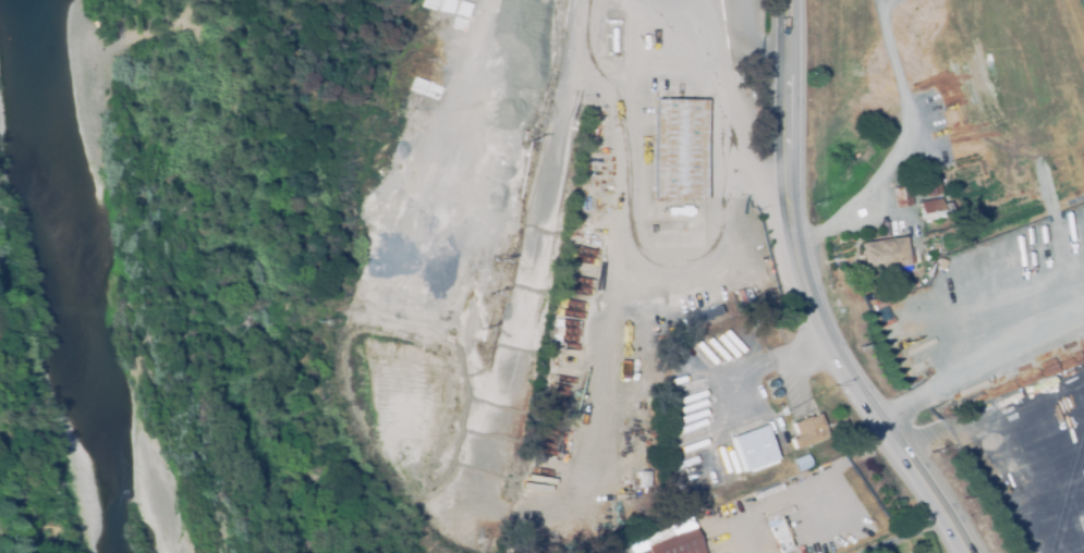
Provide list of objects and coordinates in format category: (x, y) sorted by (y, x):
road: (752, 35)
building: (590, 131)
building: (680, 149)
building: (929, 182)
building: (903, 195)
building: (935, 209)
building: (885, 256)
building: (942, 265)
river: (114, 271)
river: (68, 276)
river: (77, 282)
road: (535, 296)
road: (814, 297)
building: (703, 314)
road: (982, 365)
building: (772, 383)
building: (776, 393)
building: (807, 430)
road: (991, 440)
building: (754, 448)
building: (802, 463)
building: (645, 479)
building: (1081, 520)
building: (675, 543)

